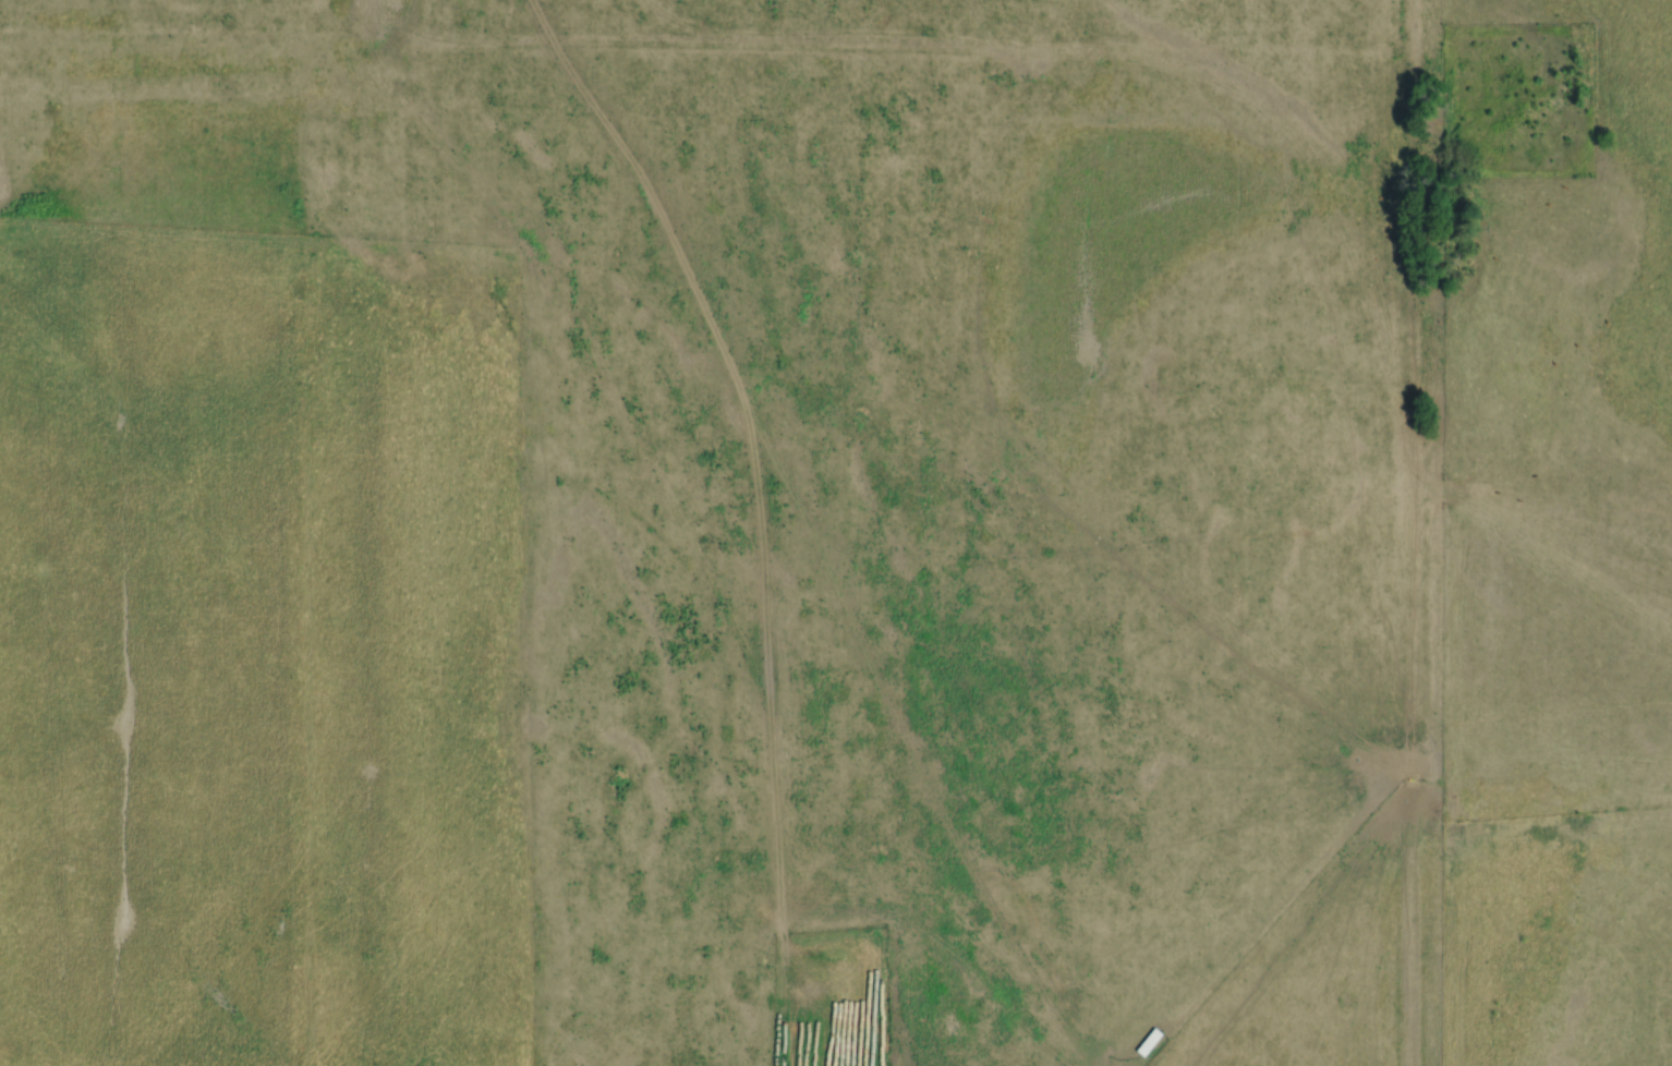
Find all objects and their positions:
building: (1150, 1041)

